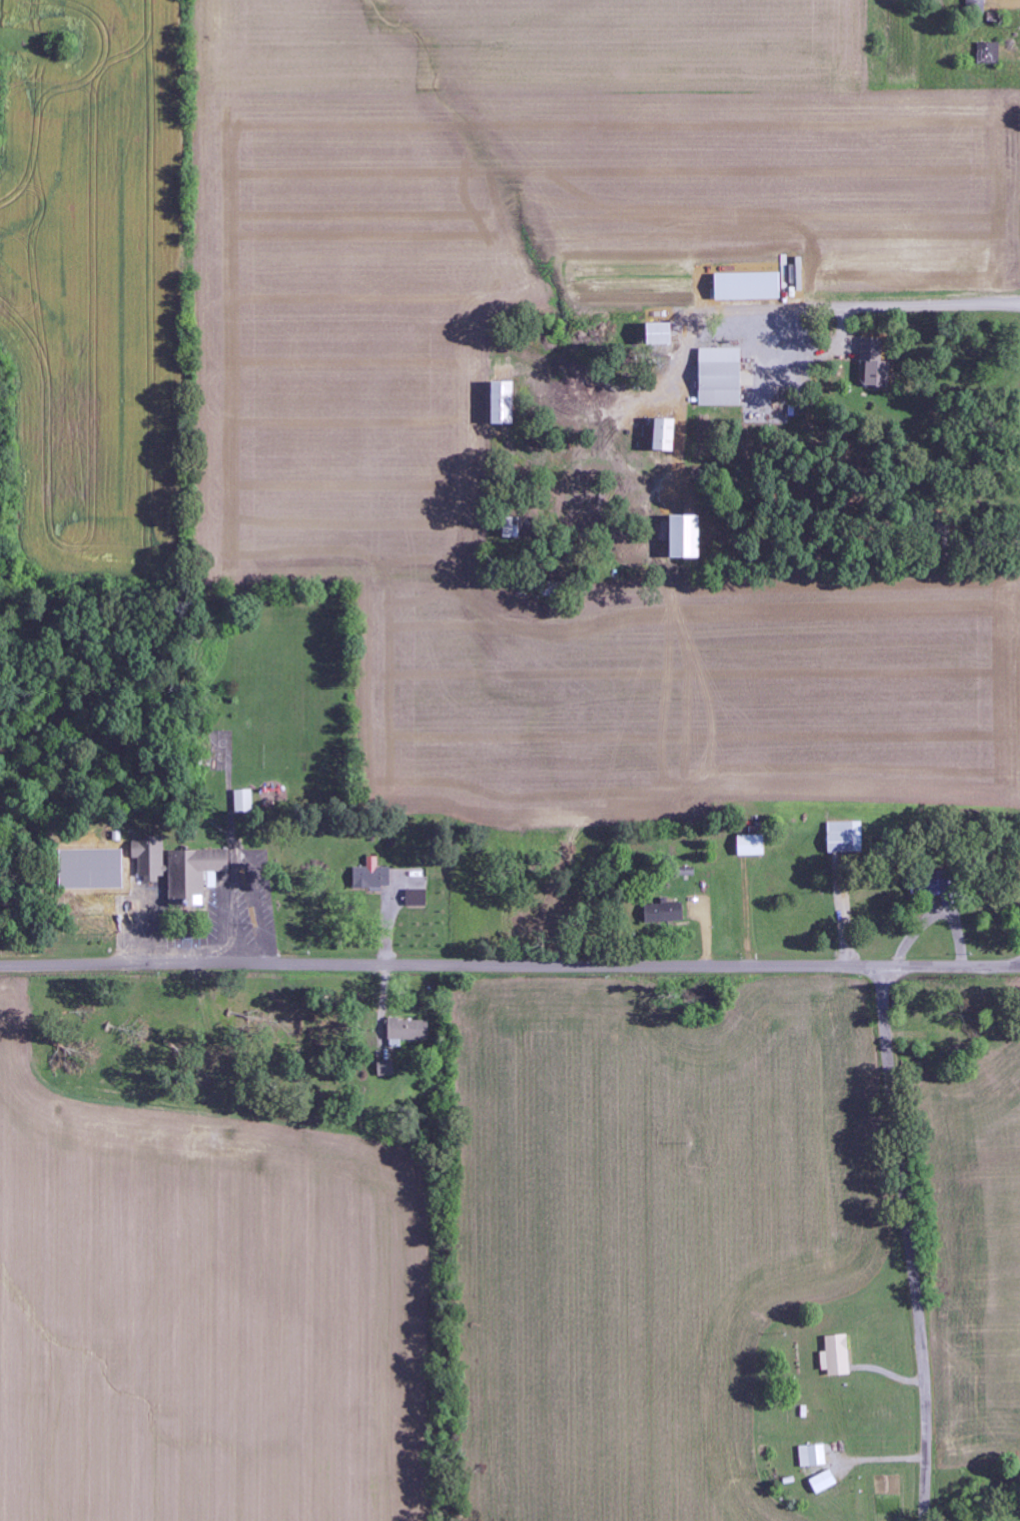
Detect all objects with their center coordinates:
building: (977, 5)
building: (990, 53)
building: (751, 287)
building: (666, 335)
building: (877, 363)
building: (723, 377)
building: (507, 404)
building: (669, 436)
building: (515, 529)
building: (690, 538)
building: (245, 801)
building: (846, 837)
building: (753, 845)
building: (182, 869)
building: (374, 875)
building: (934, 885)
building: (418, 897)
building: (666, 913)
road: (509, 964)
building: (409, 1031)
building: (387, 1068)
road: (910, 1243)
building: (838, 1356)
building: (813, 1456)
building: (825, 1481)

